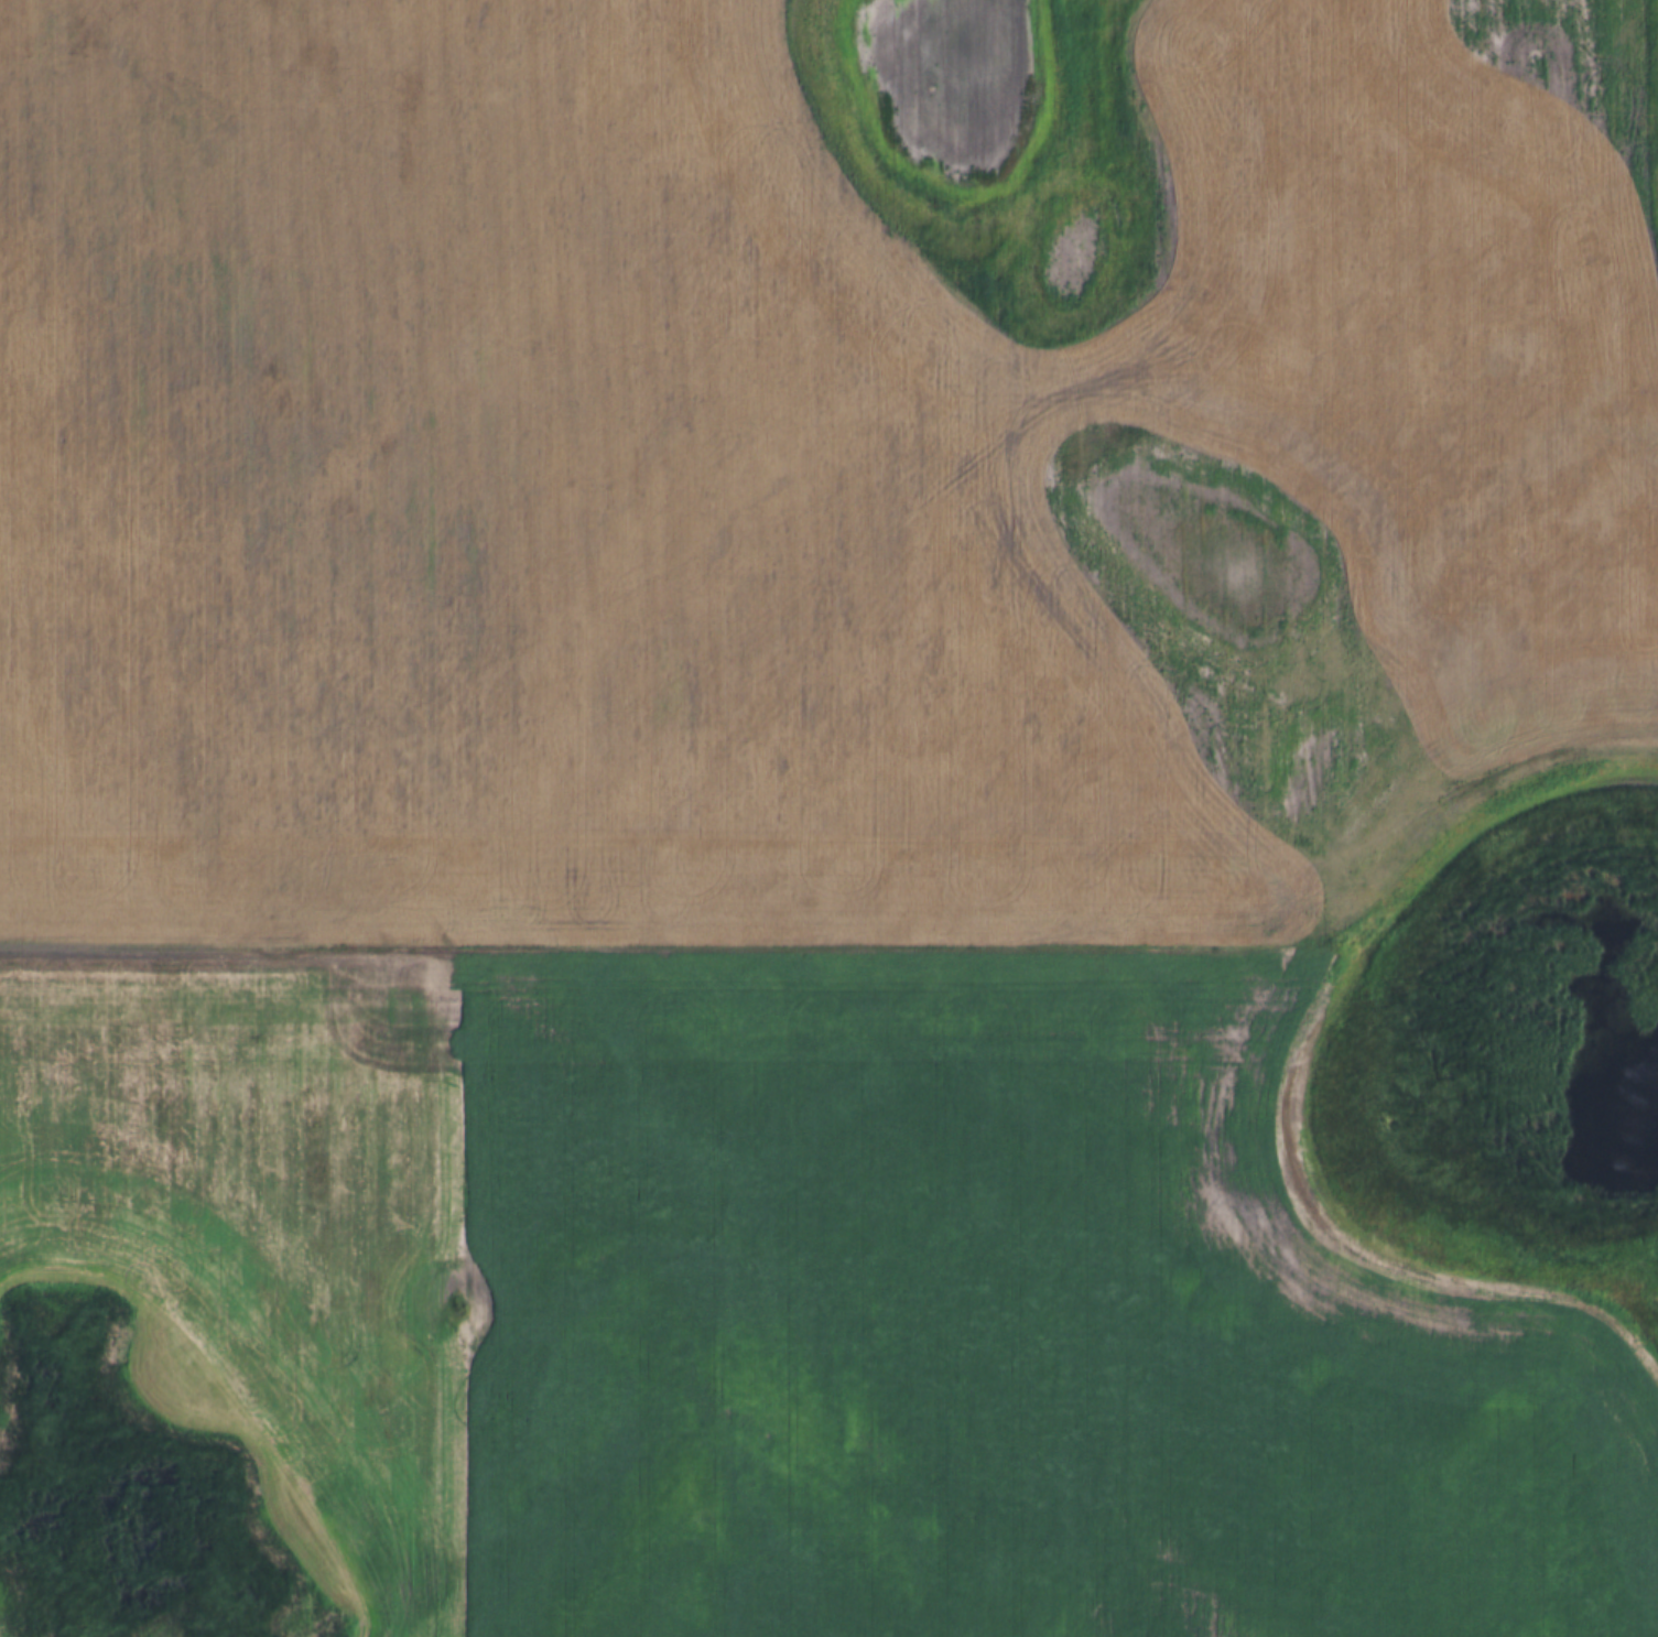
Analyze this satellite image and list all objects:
road: (865, 948)

